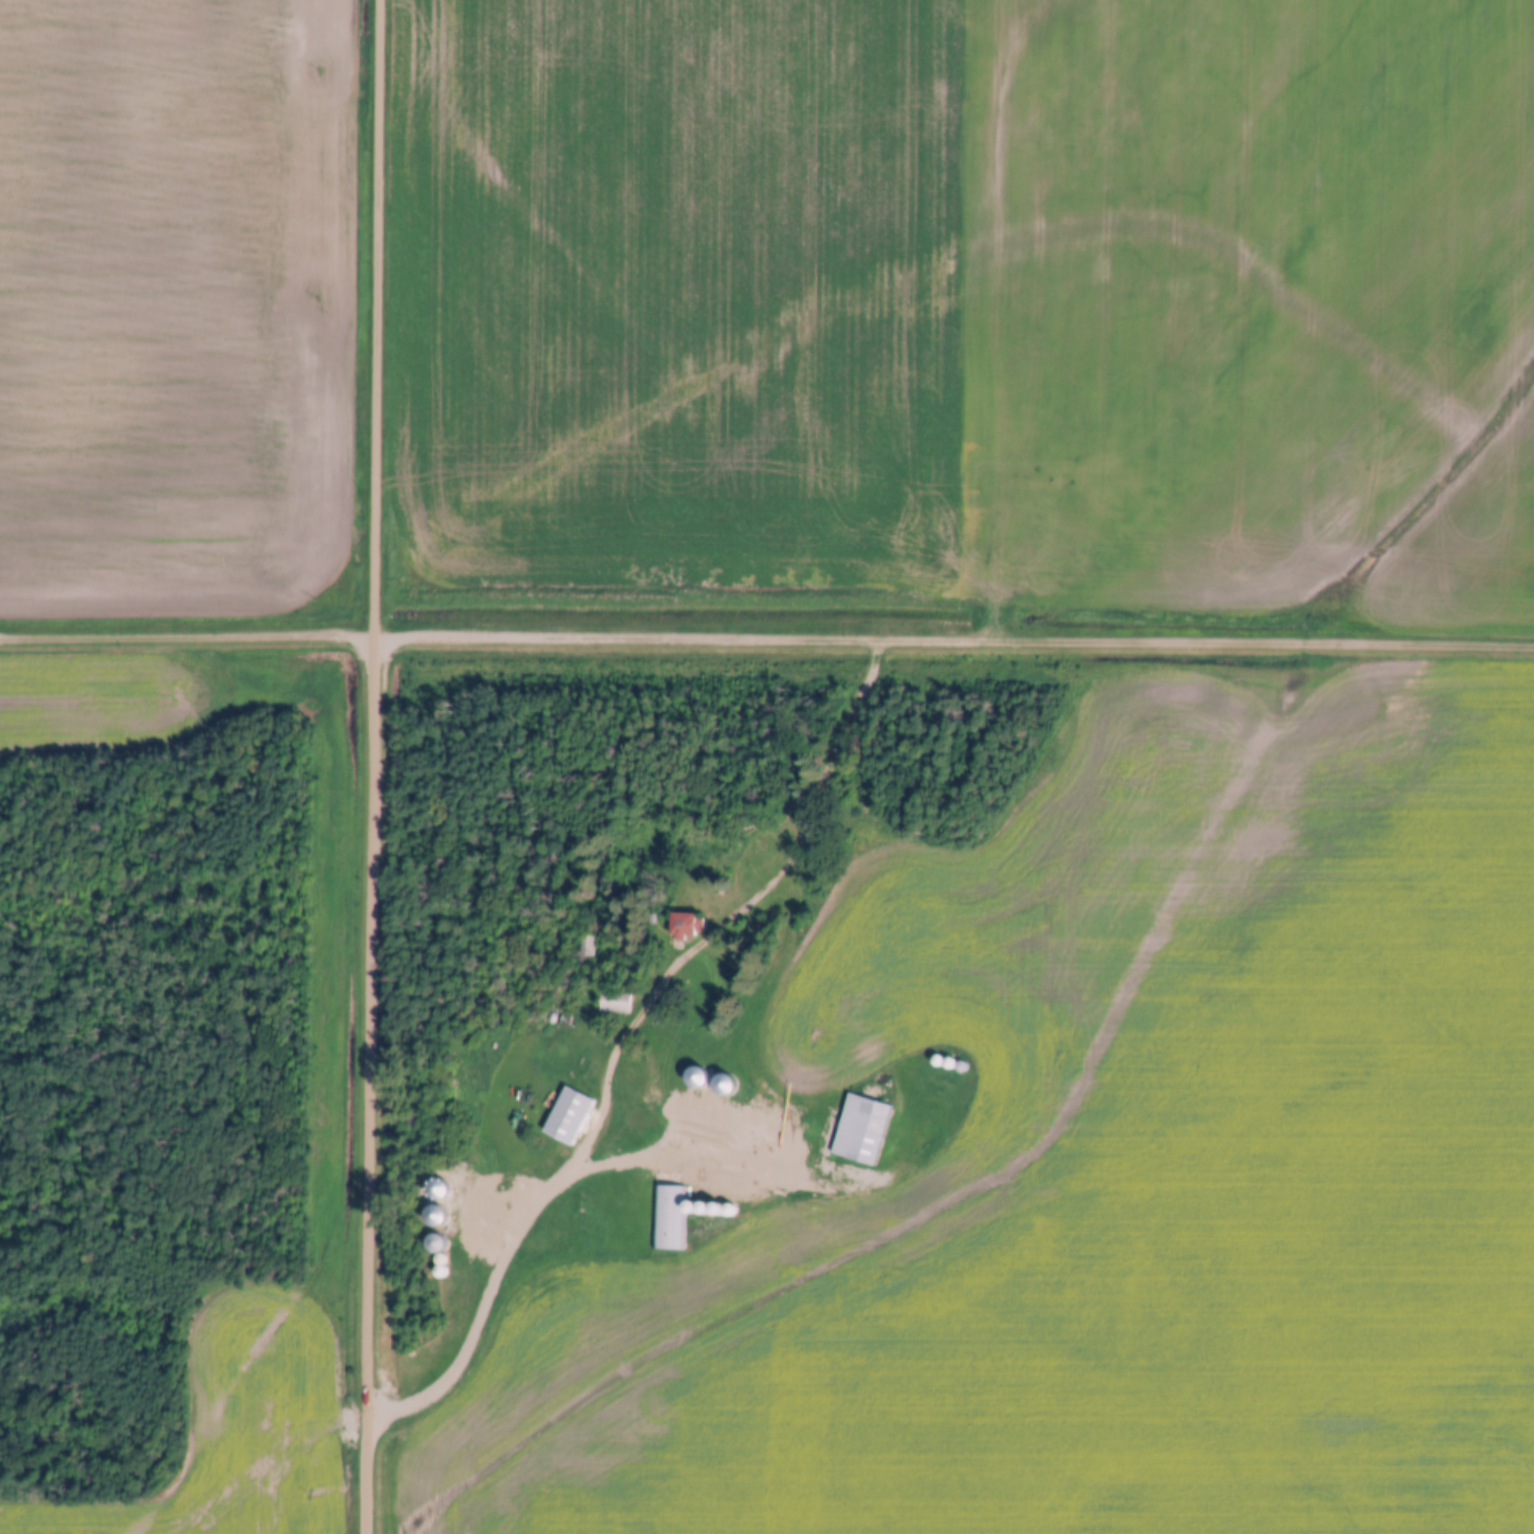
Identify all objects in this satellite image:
road: (388, 317)
road: (192, 634)
road: (636, 634)
road: (1210, 640)
road: (807, 891)
road: (664, 991)
road: (379, 1083)
road: (570, 1178)

